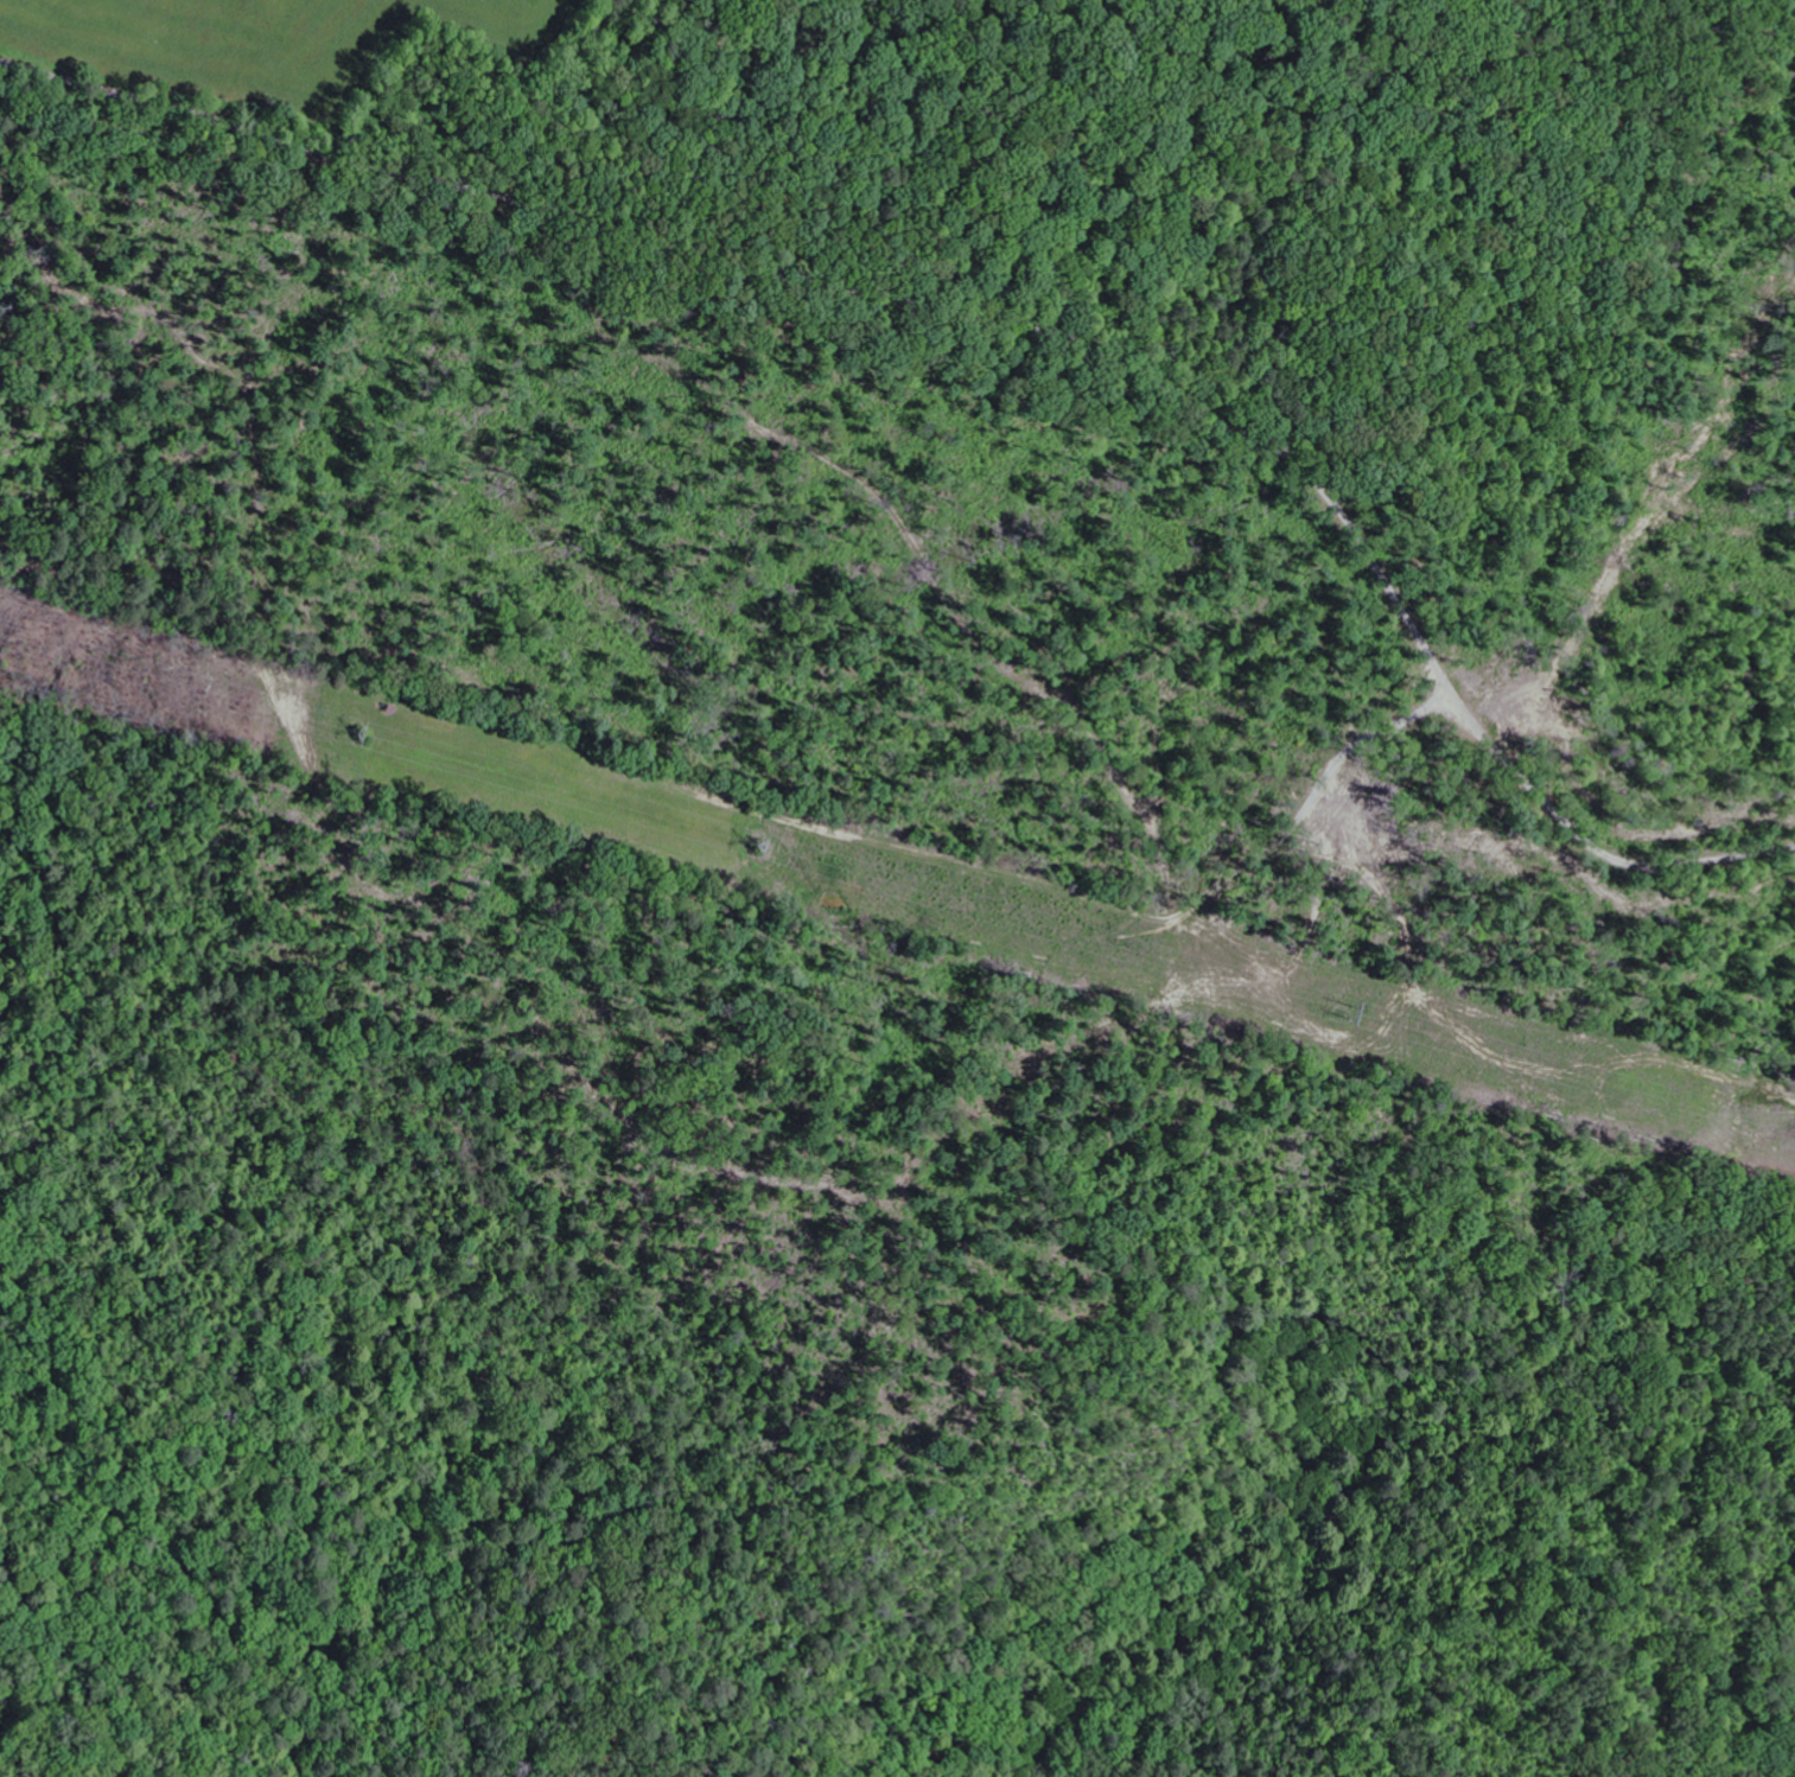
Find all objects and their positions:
road: (984, 316)

